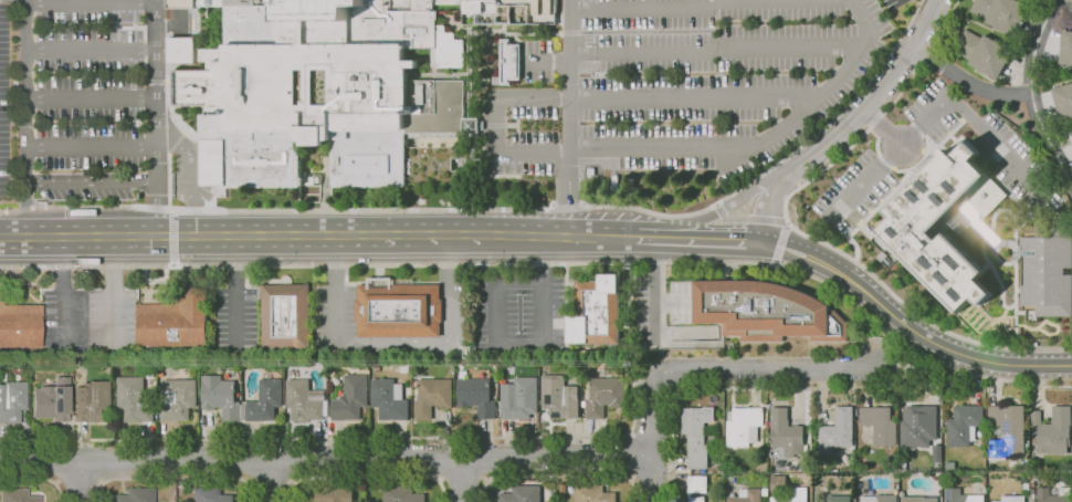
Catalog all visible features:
road: (90, 2)
road: (645, 9)
building: (1071, 9)
building: (1001, 13)
road: (1036, 44)
building: (1066, 48)
road: (90, 50)
building: (178, 50)
road: (714, 50)
road: (856, 51)
building: (984, 53)
building: (508, 61)
parking lot: (694, 80)
road: (967, 84)
road: (570, 87)
building: (335, 90)
parking lot: (4, 98)
parking lot: (87, 100)
road: (90, 100)
building: (1063, 101)
road: (938, 109)
road: (155, 117)
road: (24, 118)
road: (849, 122)
road: (883, 126)
road: (496, 133)
building: (1071, 134)
road: (1049, 143)
road: (149, 146)
road: (780, 160)
road: (88, 181)
road: (566, 206)
road: (568, 206)
road: (86, 207)
road: (365, 209)
road: (725, 210)
road: (748, 218)
building: (912, 224)
road: (800, 232)
road: (416, 234)
road: (217, 236)
road: (30, 237)
road: (80, 237)
road: (174, 238)
road: (566, 238)
road: (700, 241)
road: (780, 244)
road: (808, 245)
road: (65, 251)
road: (114, 251)
road: (544, 260)
road: (802, 261)
road: (553, 264)
street lamp: (73, 265)
building: (84, 270)
building: (1048, 271)
road: (155, 280)
road: (544, 290)
road: (654, 291)
road: (235, 293)
building: (399, 310)
building: (766, 311)
building: (597, 312)
road: (65, 313)
road: (113, 313)
road: (495, 314)
building: (285, 316)
parking lot: (113, 318)
parking lot: (65, 320)
parking lot: (237, 320)
building: (175, 321)
building: (20, 325)
road: (393, 343)
road: (519, 344)
road: (946, 349)
road: (769, 369)
road: (664, 381)
road: (715, 388)
road: (868, 388)
road: (670, 390)
building: (605, 396)
building: (220, 397)
building: (432, 397)
building: (476, 397)
building: (559, 397)
building: (519, 398)
building: (135, 399)
building: (178, 399)
building: (350, 399)
building: (389, 399)
building: (12, 400)
building: (52, 400)
building: (93, 400)
building: (265, 400)
building: (304, 400)
building: (880, 425)
building: (964, 425)
building: (743, 426)
building: (918, 426)
building: (1008, 427)
building: (837, 431)
building: (1051, 431)
road: (632, 433)
building: (696, 433)
building: (786, 433)
road: (343, 438)
road: (652, 438)
road: (634, 456)
building: (903, 457)
road: (326, 458)
building: (721, 469)
road: (367, 475)
road: (558, 475)
road: (462, 477)
road: (175, 478)
road: (271, 478)
road: (484, 478)
road: (632, 478)
road: (38, 479)
road: (80, 479)
road: (440, 479)
road: (80, 480)
road: (102, 480)
road: (250, 480)
road: (271, 480)
road: (292, 480)
road: (462, 480)
building: (1044, 480)
road: (57, 482)
building: (779, 484)
building: (697, 487)
building: (1026, 488)
building: (563, 489)
building: (765, 492)
building: (334, 494)
building: (402, 494)
building: (522, 494)
building: (593, 494)
building: (1054, 494)
building: (136, 495)
building: (210, 495)
building: (747, 495)
building: (794, 495)
building: (1032, 495)
building: (17, 496)
building: (960, 496)
building: (839, 499)
building: (879, 499)
building: (918, 499)
building: (1011, 499)

